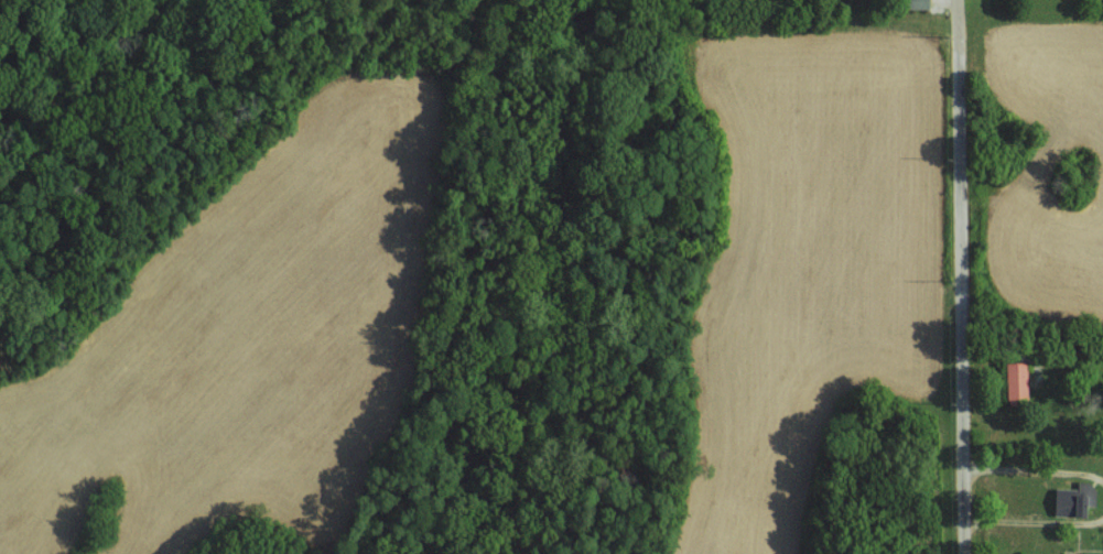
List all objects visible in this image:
road: (958, 6)
road: (961, 283)
building: (1019, 379)
road: (1034, 468)
building: (1070, 501)
road: (1034, 521)

